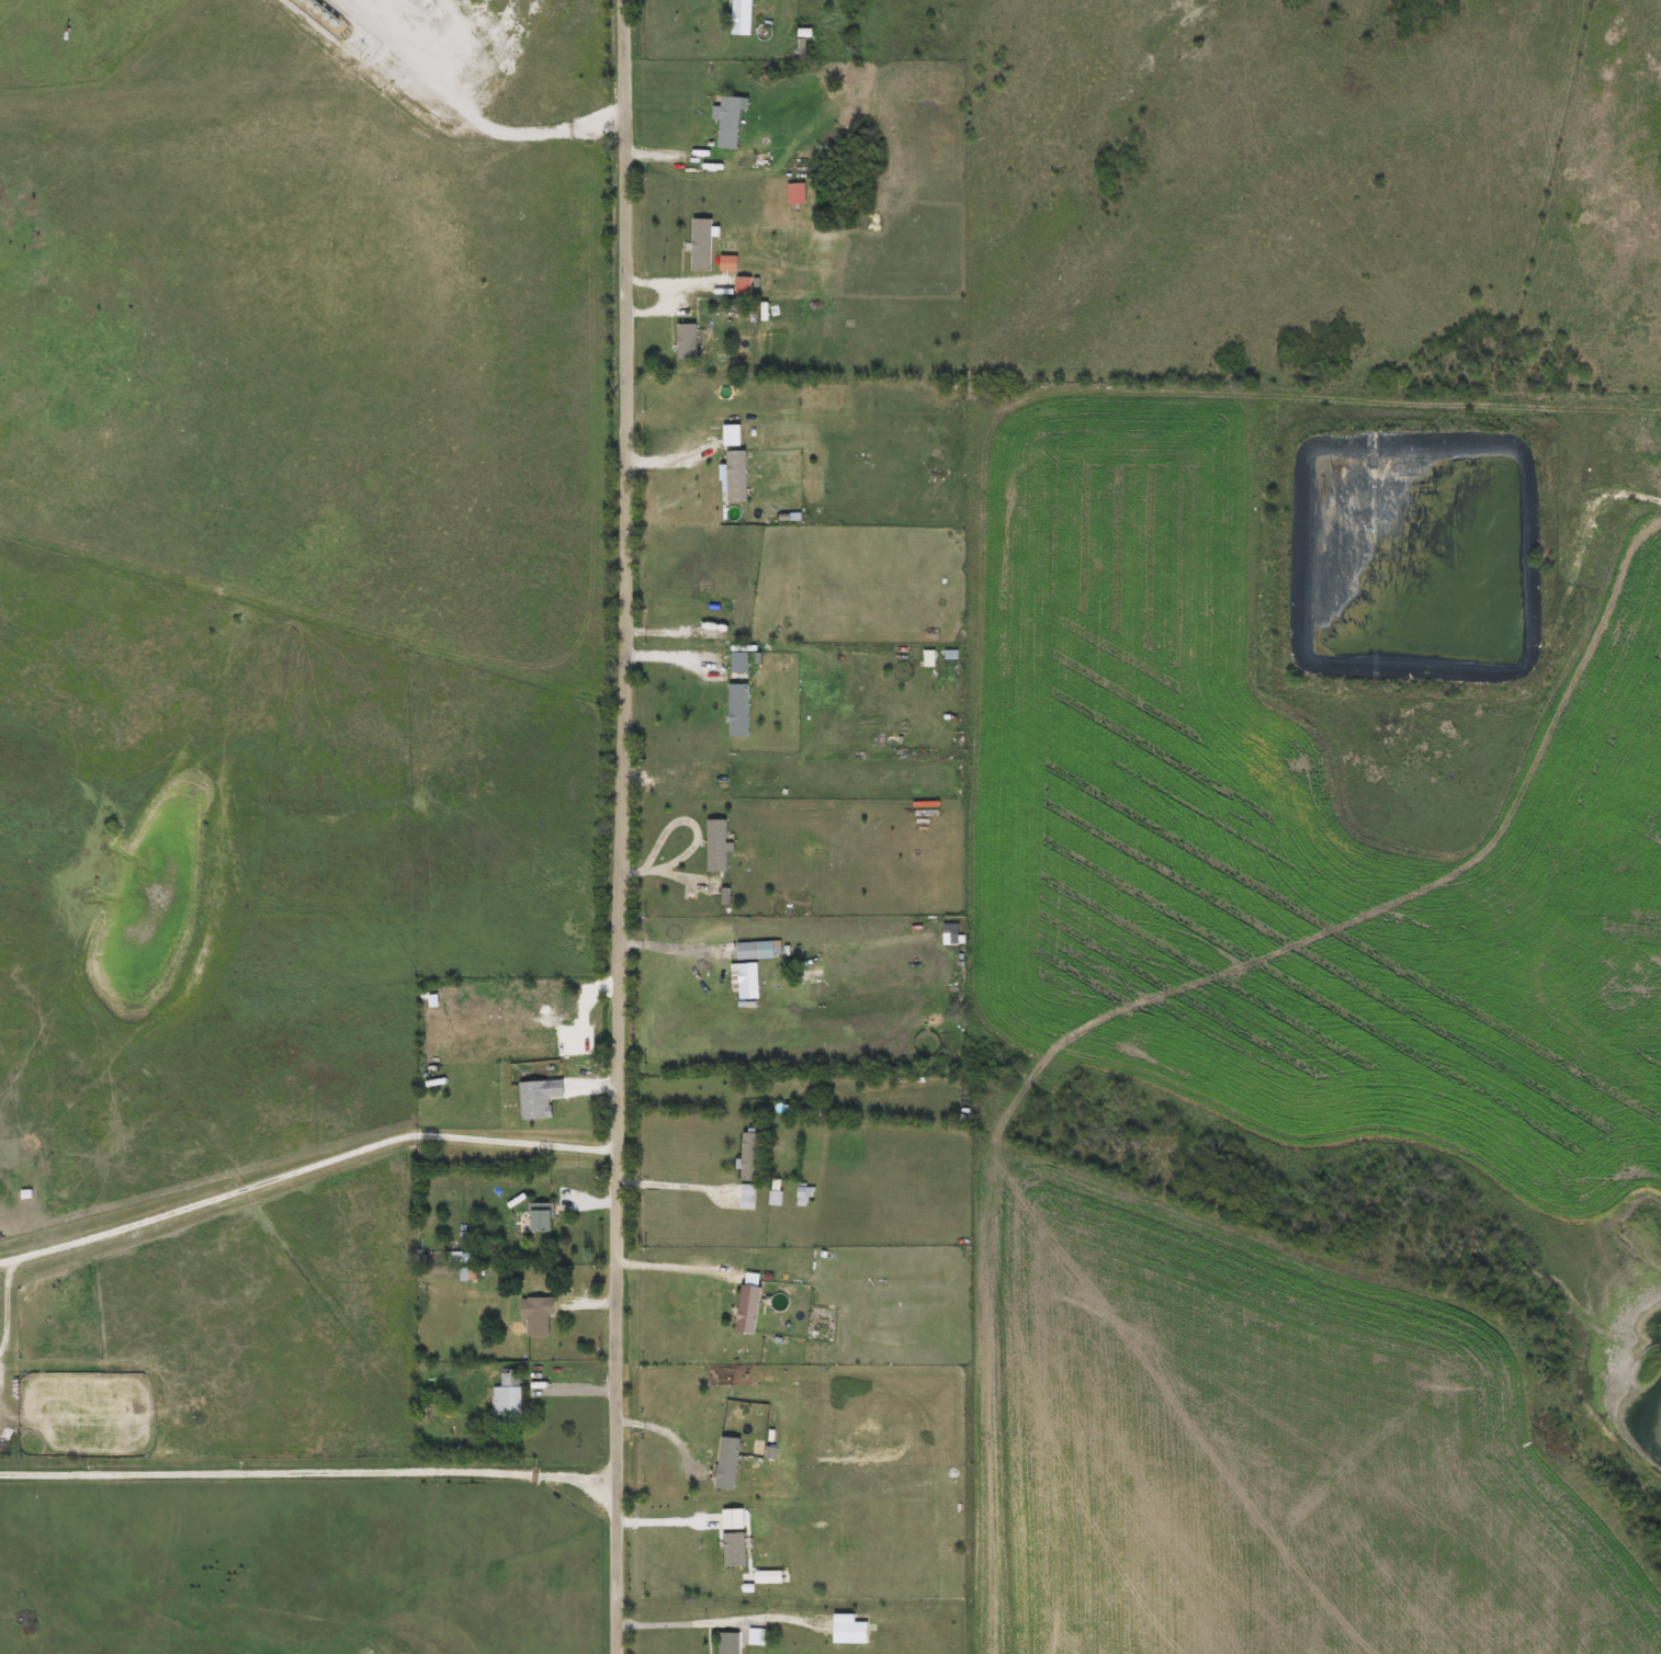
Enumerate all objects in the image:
building: (736, 18)
building: (724, 122)
road: (479, 125)
building: (696, 246)
building: (723, 265)
building: (681, 342)
building: (732, 477)
building: (738, 610)
building: (735, 665)
building: (734, 712)
road: (628, 827)
building: (711, 845)
road: (676, 944)
building: (744, 981)
building: (533, 1098)
building: (745, 1156)
road: (305, 1166)
road: (673, 1187)
building: (743, 1197)
building: (535, 1217)
building: (457, 1257)
road: (674, 1270)
building: (743, 1305)
building: (534, 1316)
building: (504, 1398)
road: (670, 1435)
building: (724, 1464)
road: (310, 1473)
road: (665, 1525)
road: (681, 1625)
road: (1389, 1635)
building: (723, 1643)

